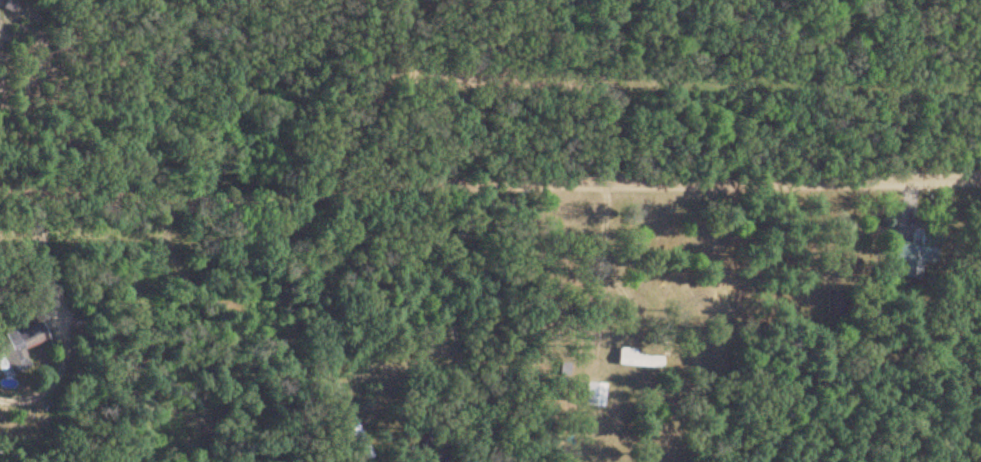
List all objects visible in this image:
road: (489, 180)
road: (54, 295)
building: (829, 303)

